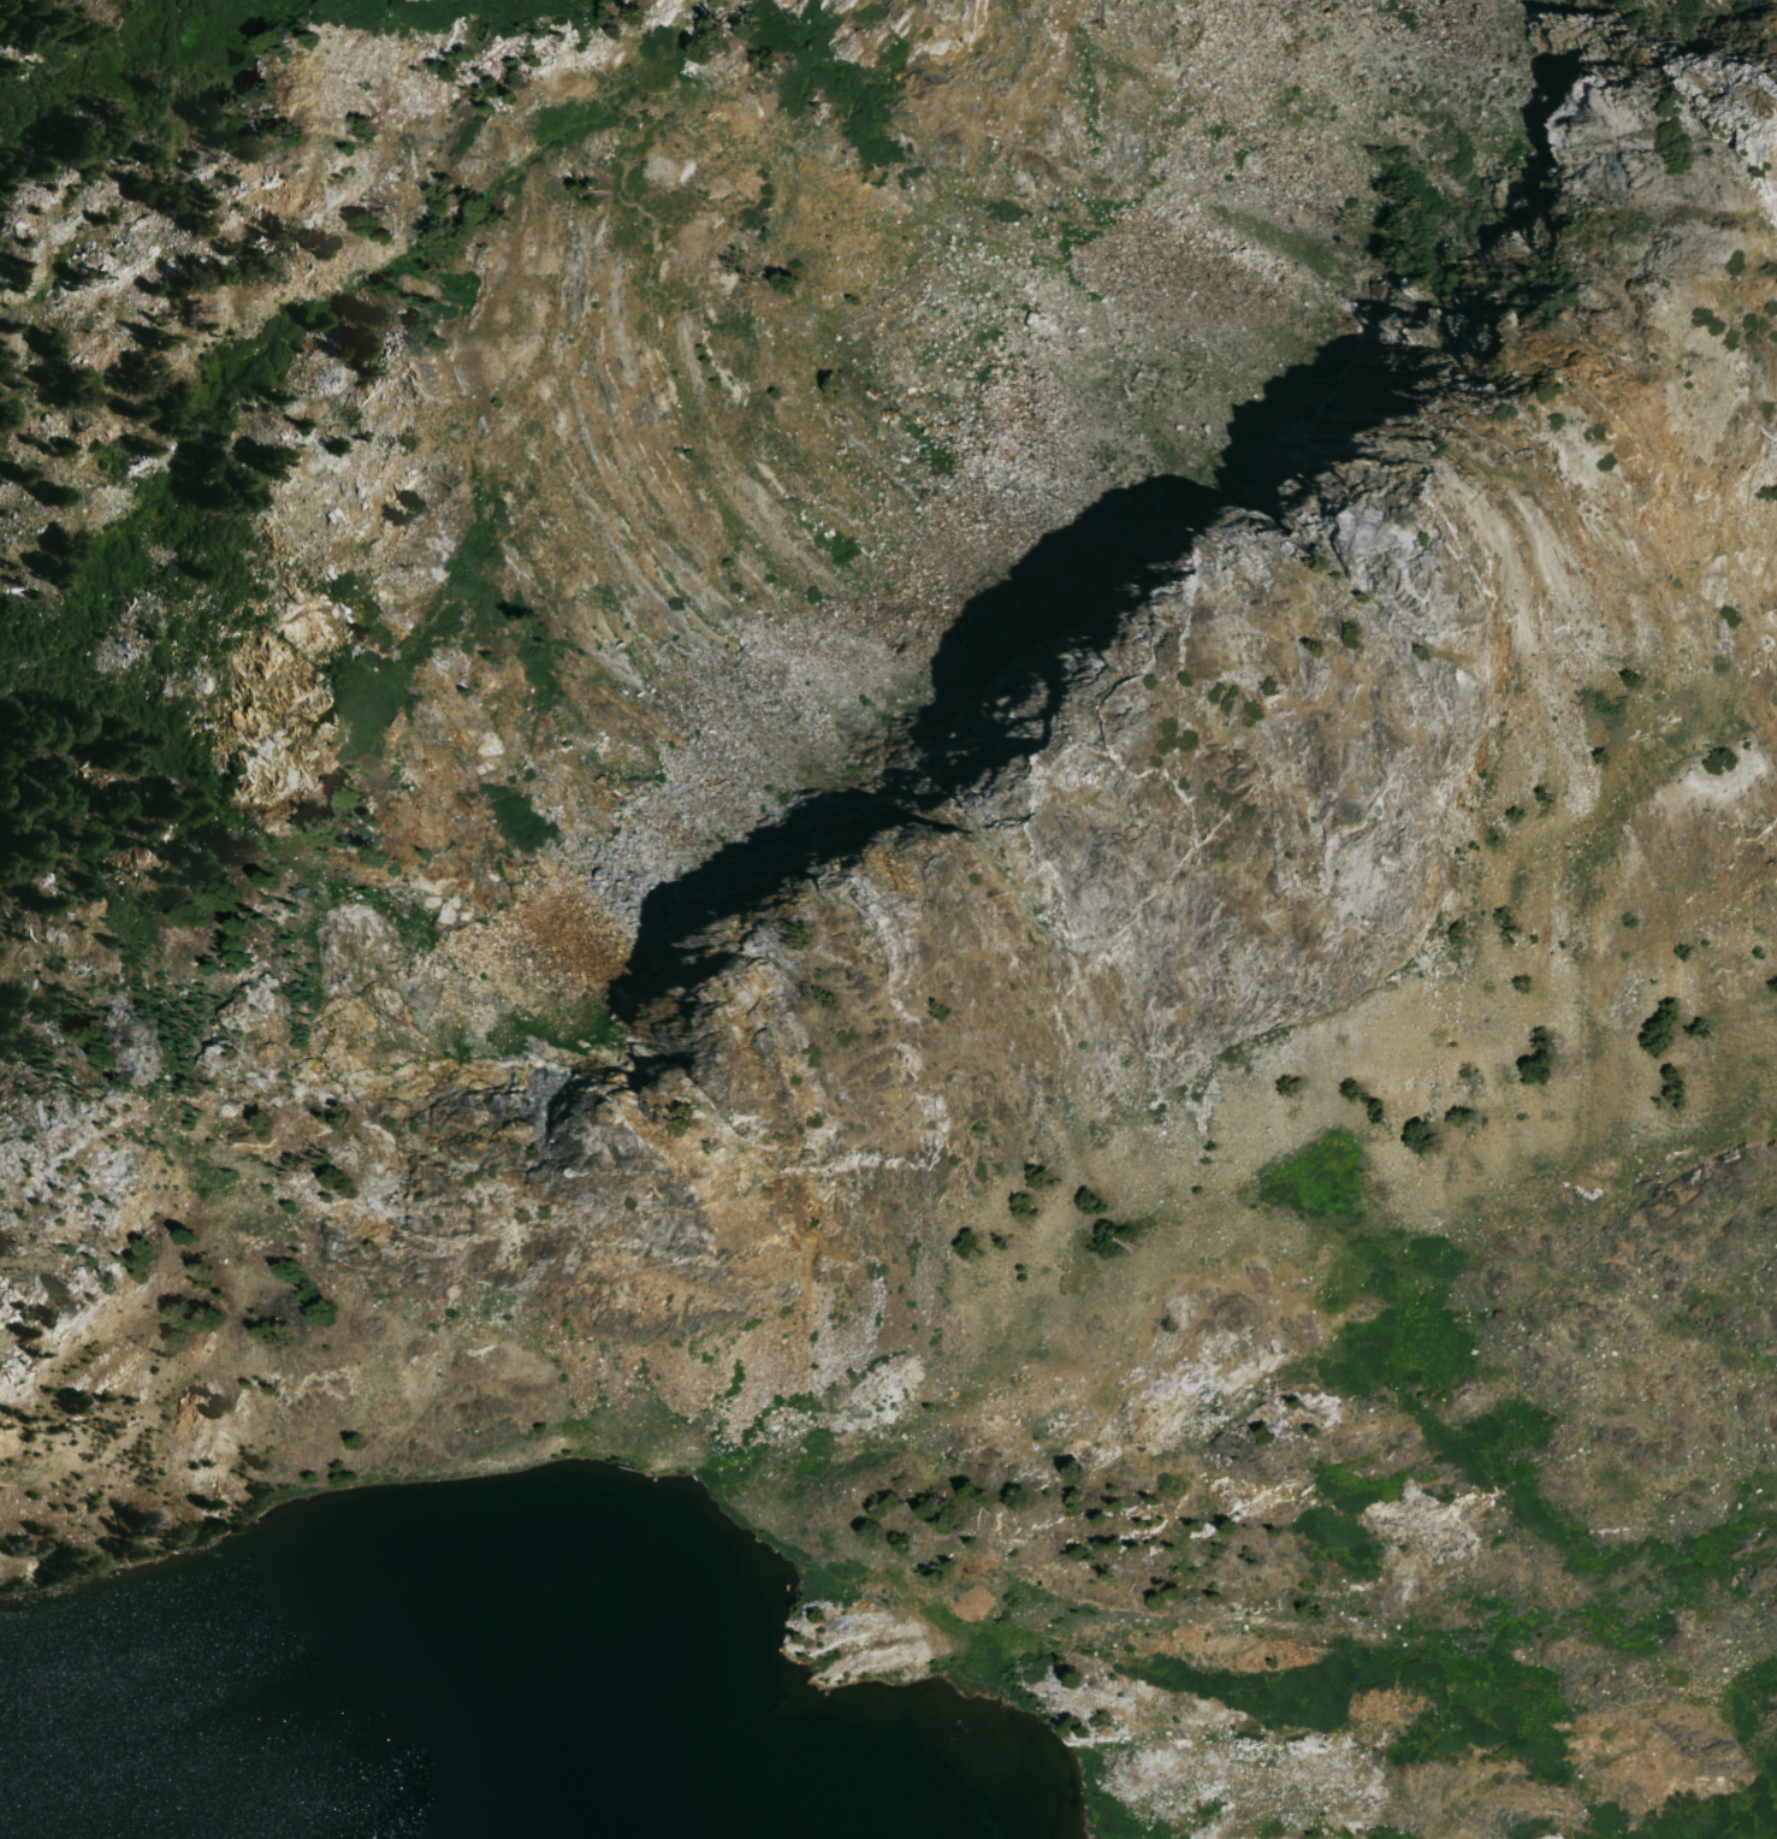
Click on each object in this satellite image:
road: (510, 536)
road: (507, 1460)

